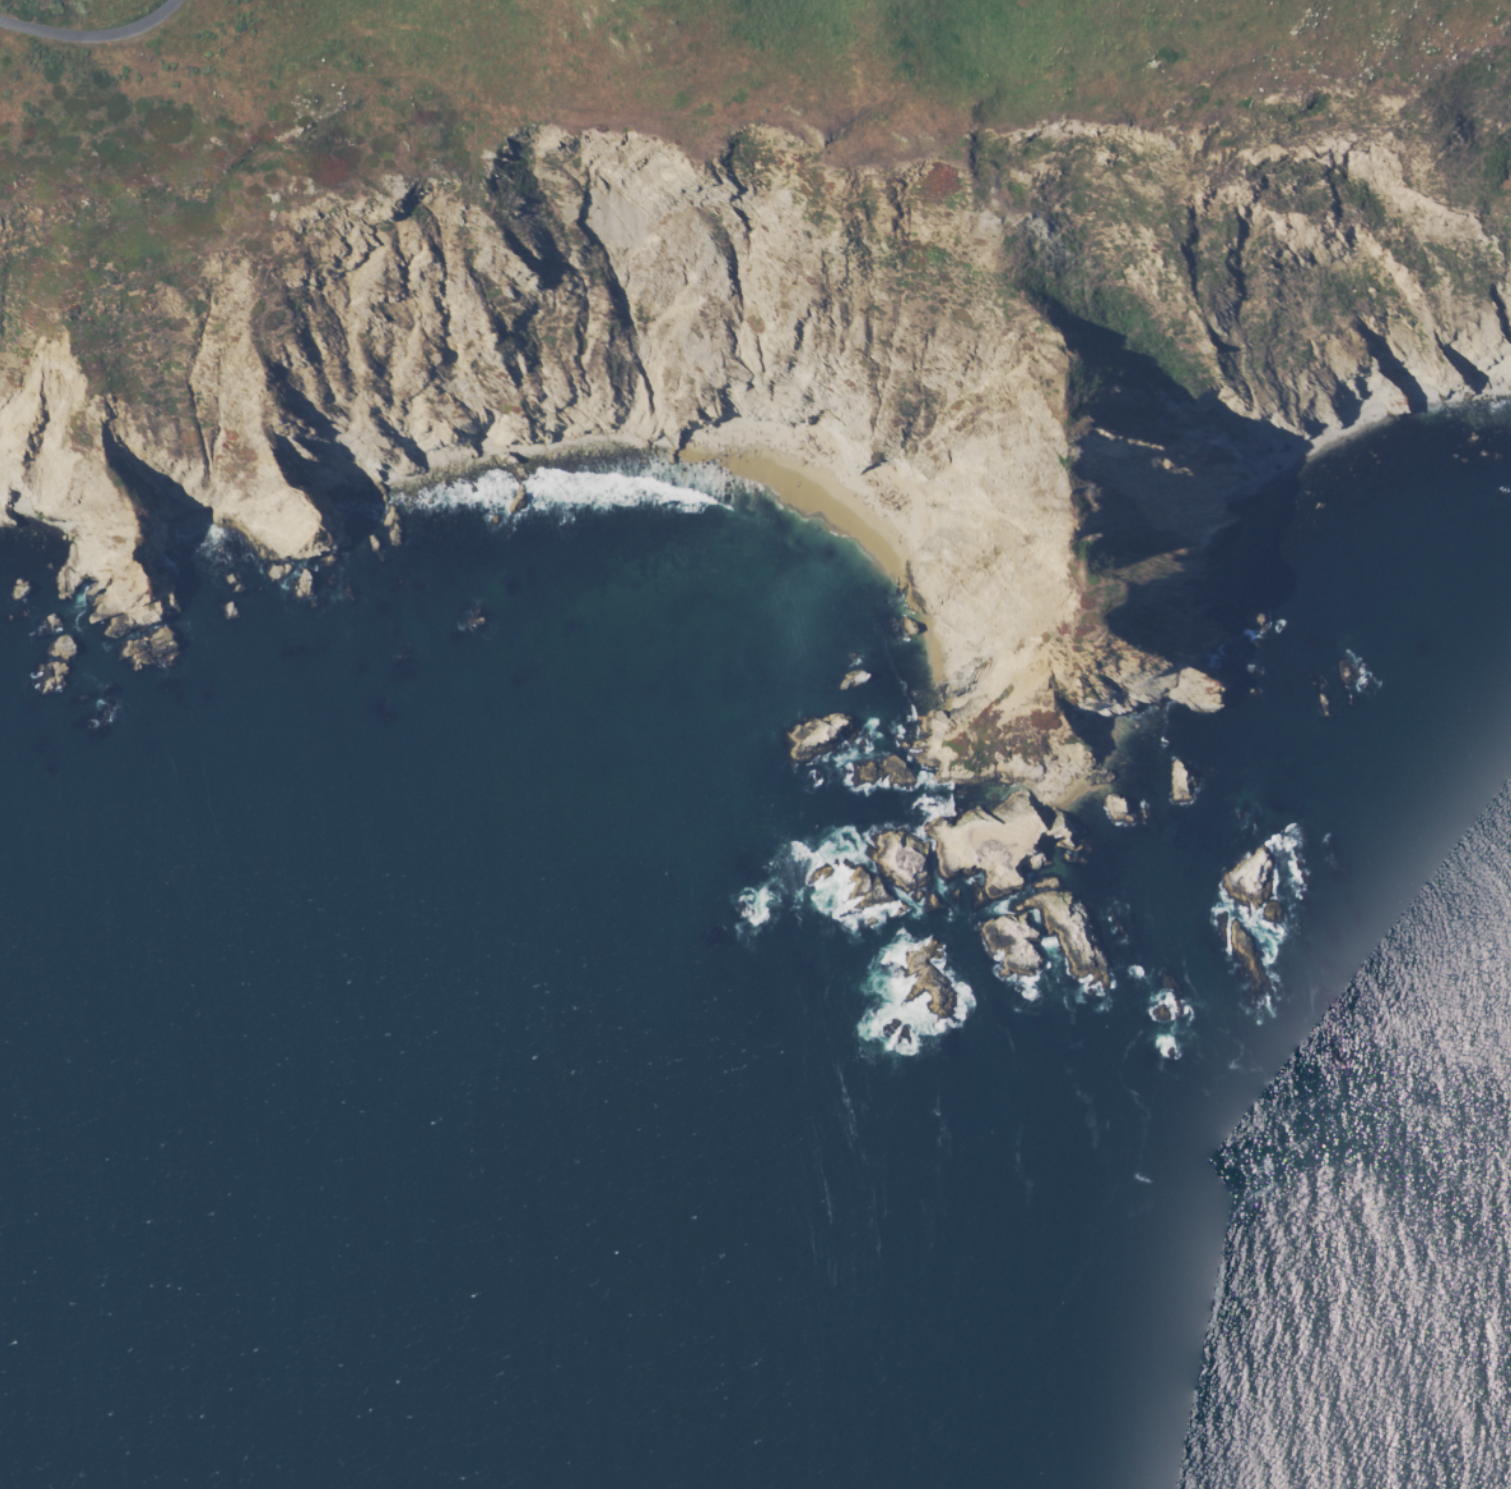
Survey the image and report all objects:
road: (92, 36)
road: (532, 92)

